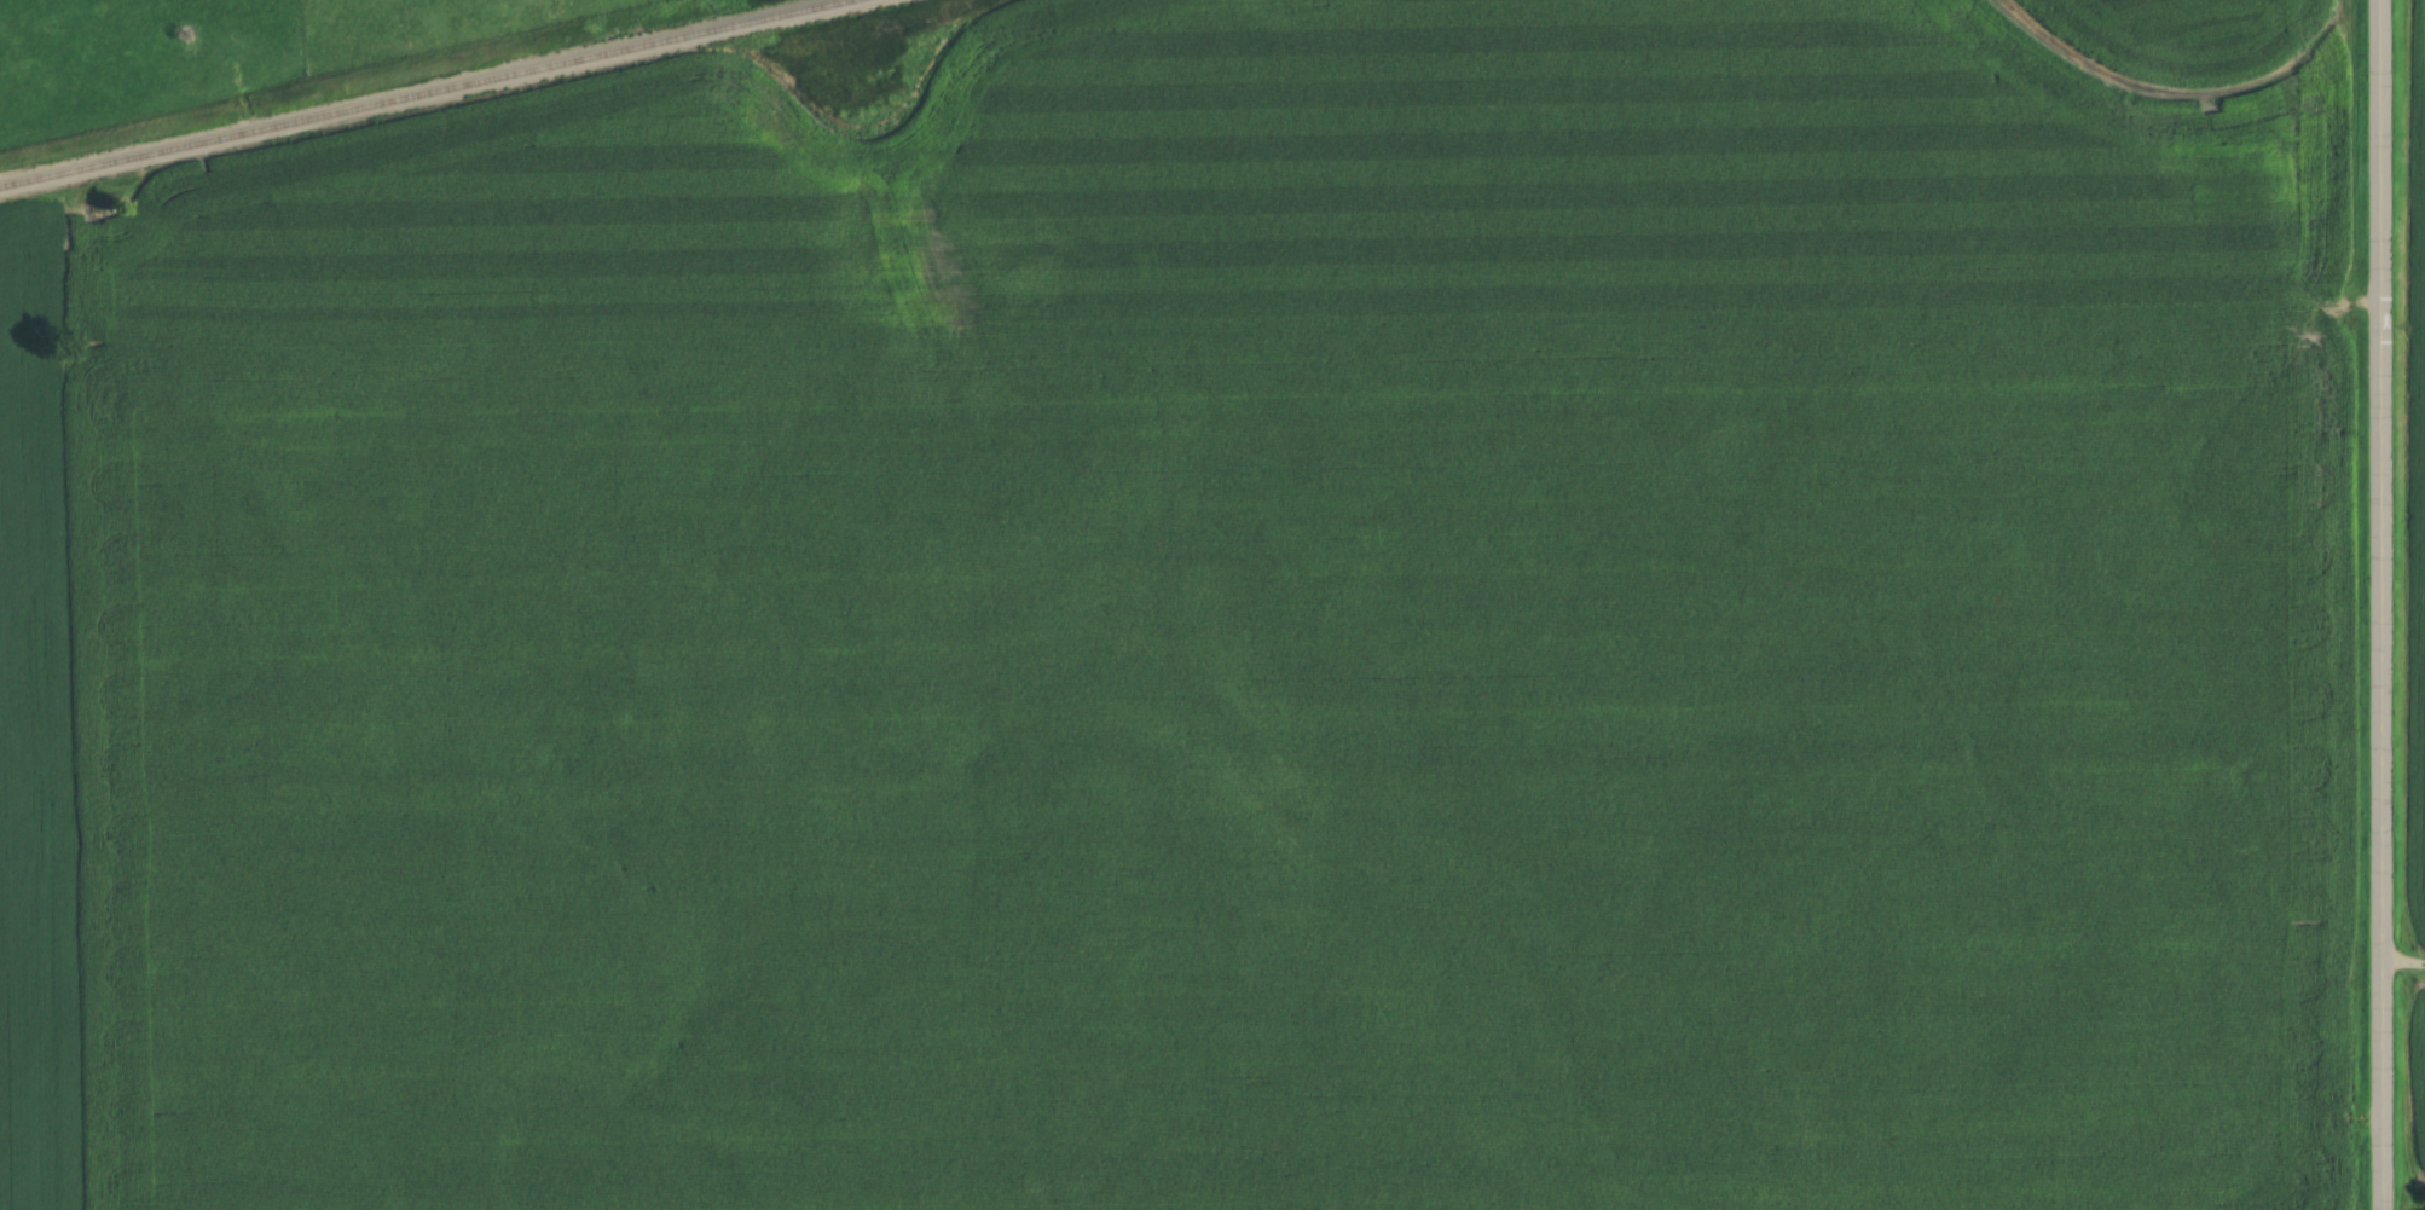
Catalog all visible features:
railway: (422, 92)
road: (2389, 604)

